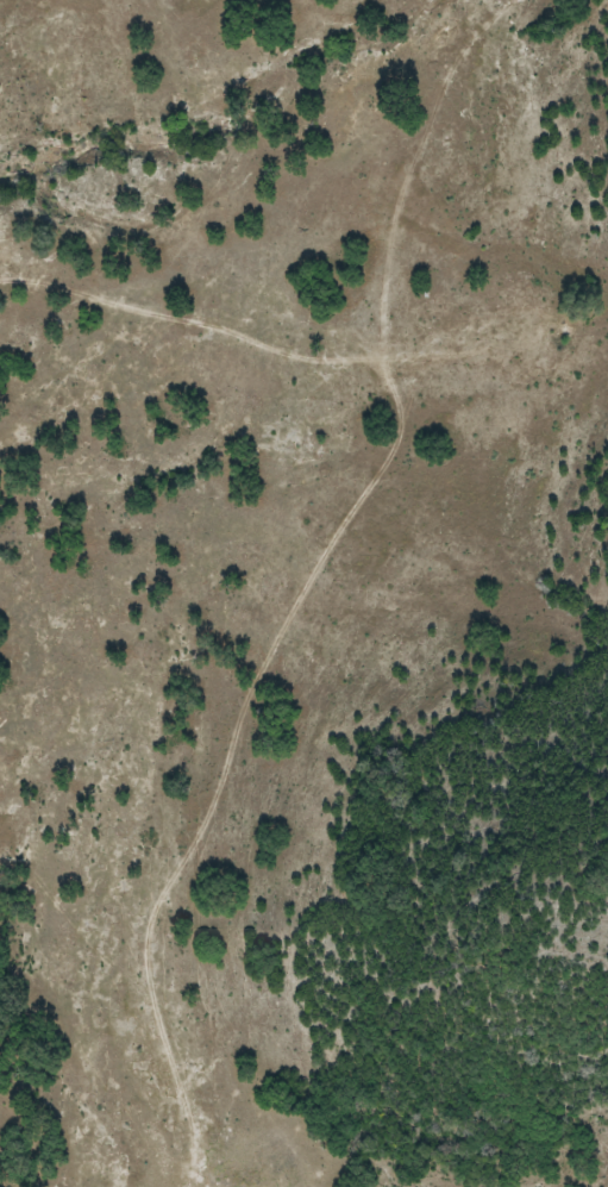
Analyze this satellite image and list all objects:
road: (267, 616)

